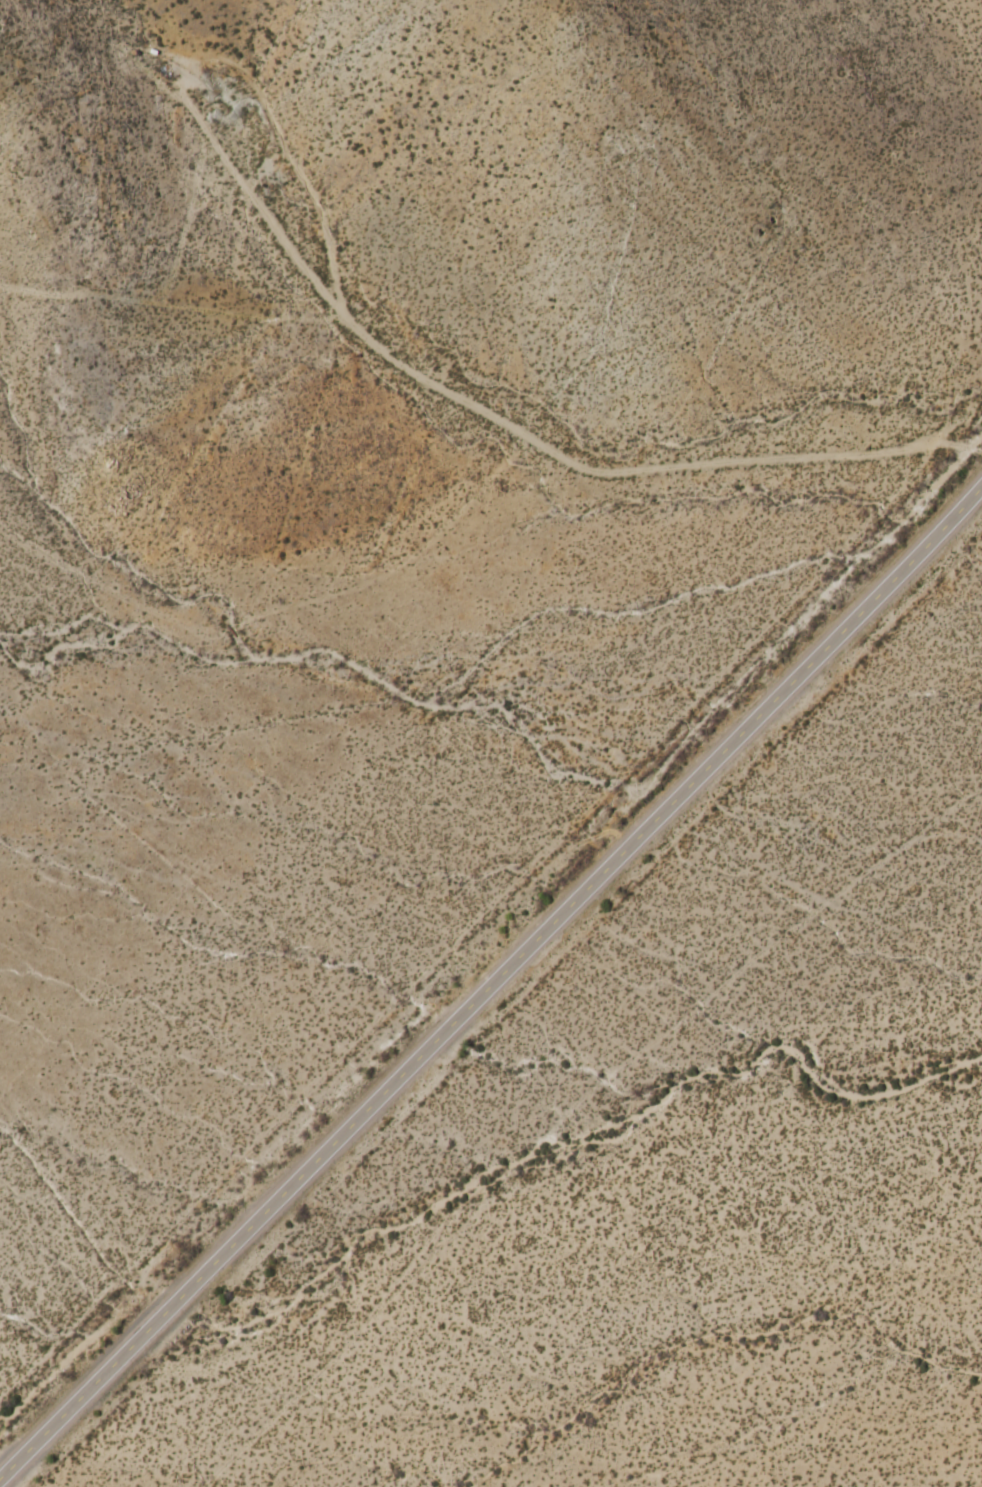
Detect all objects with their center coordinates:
road: (961, 38)
road: (295, 164)
road: (161, 294)
road: (497, 418)
road: (959, 419)
road: (281, 608)
road: (491, 978)

